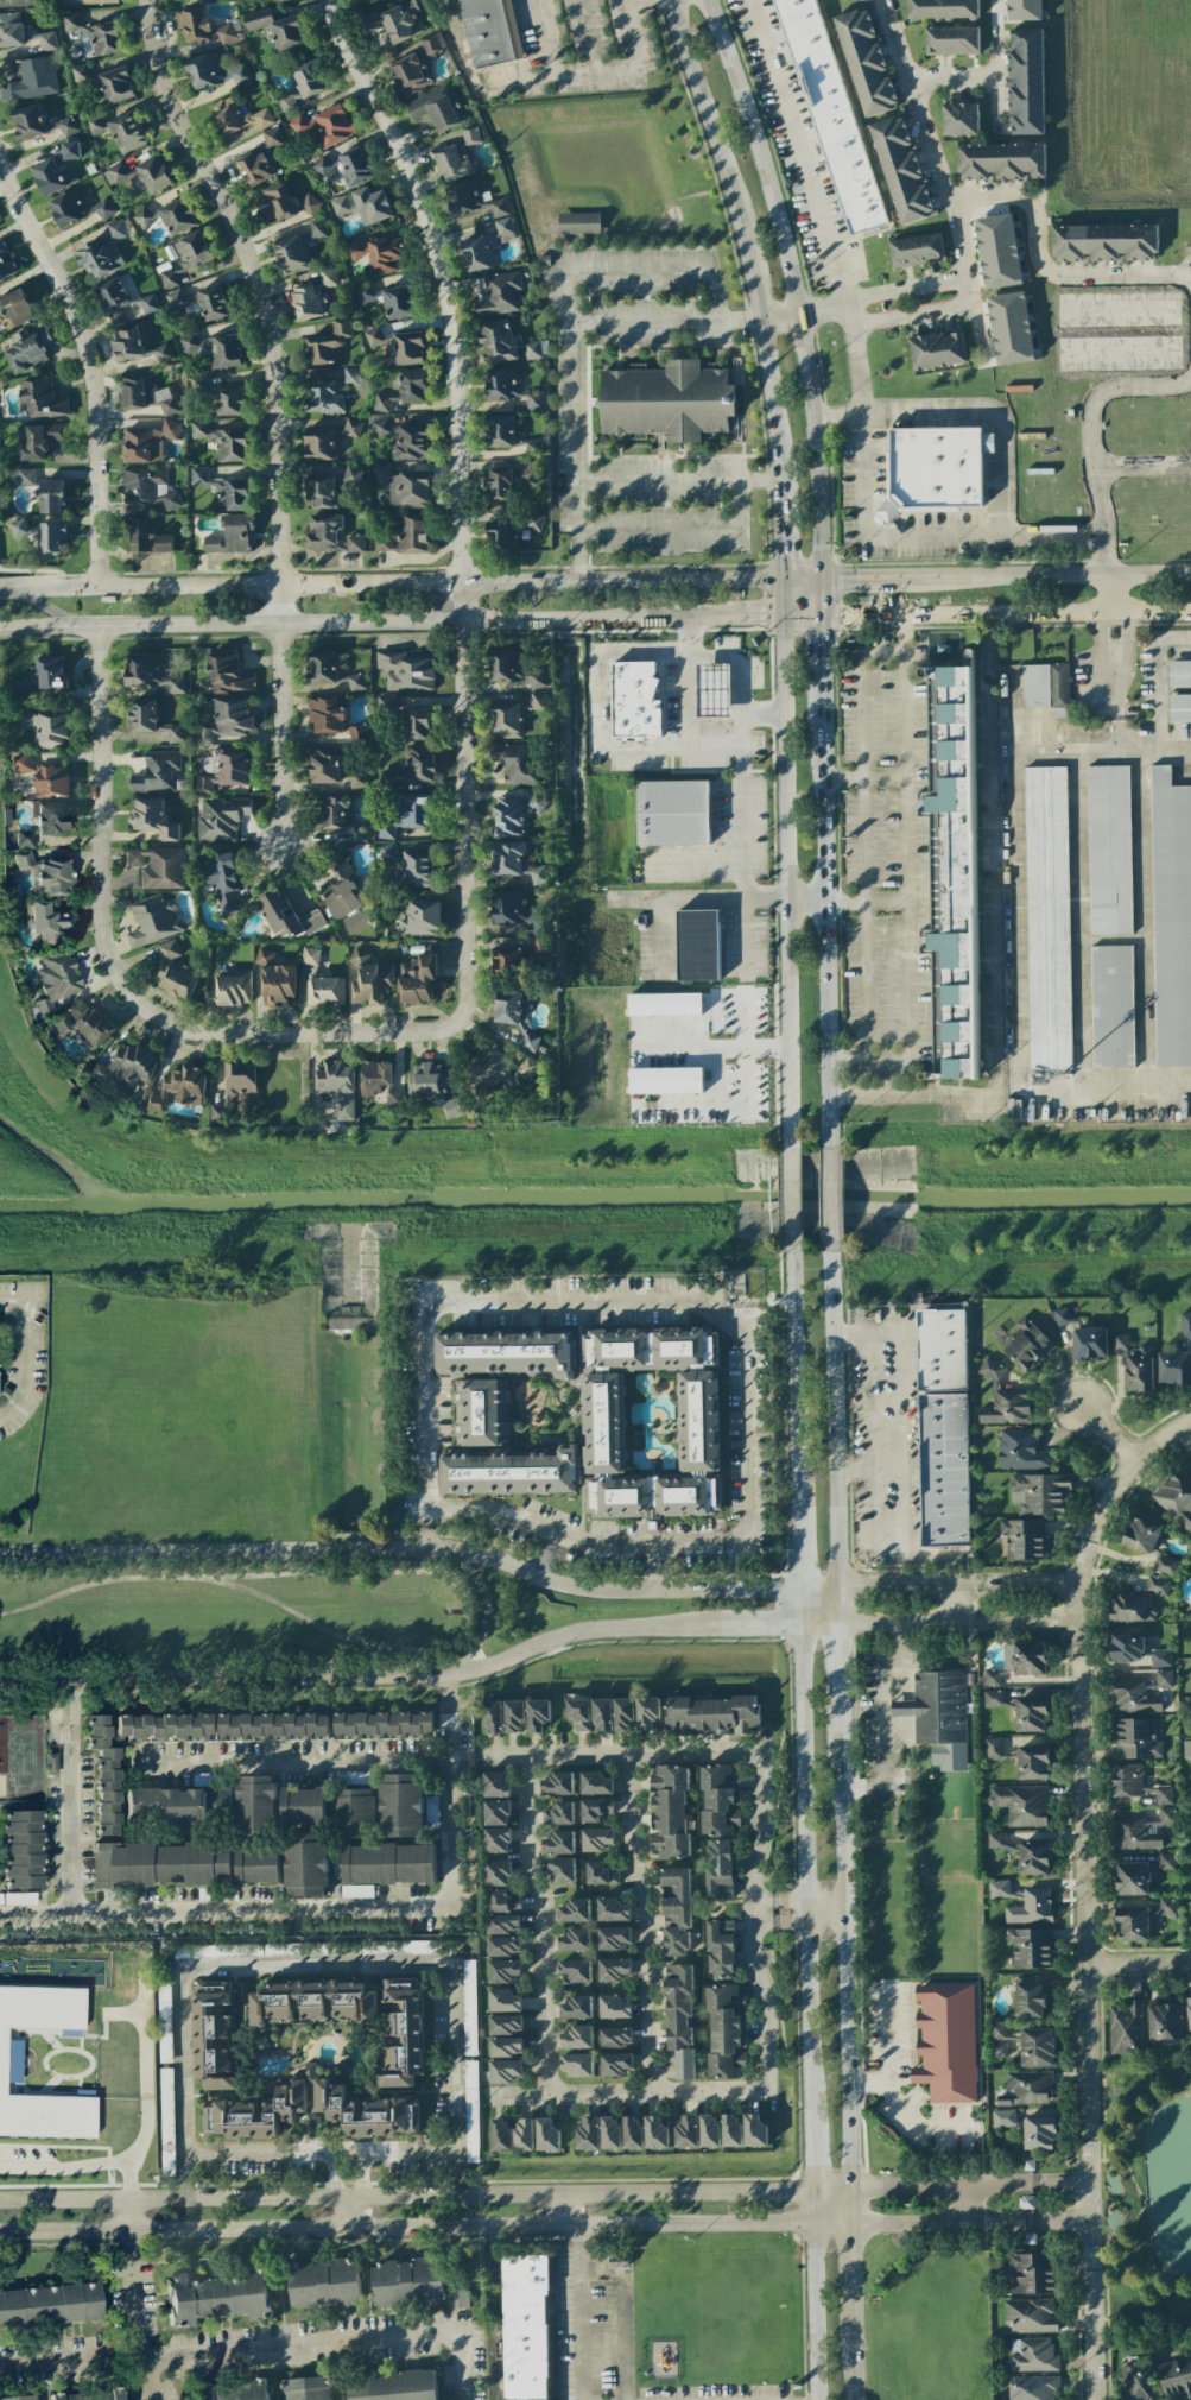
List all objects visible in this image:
building: (194, 0)
building: (280, 0)
building: (85, 1)
road: (627, 1)
building: (21, 2)
building: (942, 8)
building: (1024, 10)
building: (397, 21)
building: (9, 23)
building: (201, 27)
building: (278, 29)
building: (492, 31)
building: (96, 33)
road: (589, 36)
building: (951, 40)
building: (866, 62)
building: (414, 68)
building: (213, 71)
road: (594, 72)
building: (80, 74)
building: (31, 78)
road: (951, 80)
building: (1026, 81)
building: (116, 84)
building: (300, 89)
building: (437, 109)
building: (832, 114)
building: (237, 116)
road: (703, 119)
building: (959, 119)
building: (28, 121)
building: (95, 124)
building: (299, 124)
building: (66, 126)
building: (334, 126)
building: (127, 131)
building: (470, 135)
road: (927, 135)
building: (70, 150)
road: (798, 153)
building: (260, 158)
building: (1001, 162)
building: (450, 163)
building: (322, 166)
building: (355, 166)
building: (901, 170)
building: (114, 172)
building: (151, 175)
building: (52, 176)
building: (471, 200)
building: (277, 203)
building: (309, 204)
building: (363, 206)
building: (77, 209)
building: (142, 216)
building: (178, 216)
building: (578, 223)
building: (317, 228)
building: (115, 229)
building: (1104, 242)
building: (487, 246)
building: (355, 250)
building: (917, 250)
building: (999, 251)
building: (290, 255)
building: (384, 255)
building: (188, 257)
building: (97, 259)
building: (6, 261)
road: (636, 264)
road: (1045, 265)
building: (328, 278)
road: (444, 279)
road: (750, 279)
road: (792, 283)
road: (1190, 284)
road: (904, 285)
building: (500, 295)
building: (391, 299)
building: (120, 301)
building: (202, 302)
building: (308, 302)
building: (15, 308)
road: (969, 309)
road: (803, 314)
road: (906, 316)
building: (1011, 328)
building: (498, 341)
building: (328, 343)
building: (126, 345)
building: (398, 346)
building: (28, 348)
building: (214, 349)
building: (532, 349)
building: (937, 350)
building: (163, 353)
road: (89, 361)
road: (769, 384)
building: (411, 386)
building: (509, 387)
building: (332, 391)
building: (145, 394)
building: (42, 398)
building: (229, 399)
building: (667, 400)
building: (381, 403)
road: (575, 409)
road: (277, 411)
road: (992, 413)
building: (351, 428)
building: (500, 430)
building: (405, 438)
building: (38, 440)
building: (222, 441)
building: (147, 442)
building: (319, 443)
road: (1095, 454)
road: (779, 462)
road: (1144, 465)
building: (933, 468)
building: (26, 476)
building: (404, 486)
building: (500, 486)
building: (148, 488)
building: (224, 490)
building: (324, 492)
building: (51, 497)
building: (19, 528)
road: (780, 528)
road: (680, 529)
road: (578, 531)
building: (323, 532)
building: (413, 533)
building: (501, 533)
building: (140, 535)
building: (232, 535)
road: (869, 537)
building: (51, 539)
building: (382, 542)
building: (164, 543)
building: (354, 543)
road: (31, 569)
road: (1052, 575)
road: (47, 576)
traffic signals: (780, 577)
road: (800, 577)
road: (867, 577)
road: (620, 579)
traffic signals: (821, 579)
road: (279, 583)
road: (47, 587)
road: (780, 596)
road: (821, 596)
road: (986, 613)
traffic signals: (821, 614)
road: (742, 615)
traffic signals: (780, 615)
road: (401, 620)
road: (47, 625)
road: (821, 653)
building: (505, 664)
road: (1113, 664)
building: (407, 670)
building: (329, 671)
building: (150, 672)
building: (1179, 674)
building: (224, 675)
building: (40, 677)
building: (537, 680)
road: (1158, 681)
building: (1046, 688)
building: (714, 690)
road: (598, 700)
building: (635, 700)
building: (538, 702)
building: (1179, 708)
building: (327, 715)
building: (228, 719)
building: (152, 720)
building: (506, 720)
building: (417, 724)
building: (46, 726)
road: (1116, 732)
road: (684, 749)
building: (515, 762)
building: (21, 763)
building: (419, 763)
road: (465, 763)
building: (331, 768)
building: (224, 769)
building: (158, 772)
building: (51, 781)
building: (673, 811)
building: (513, 813)
building: (408, 814)
building: (50, 817)
building: (152, 817)
building: (341, 817)
building: (221, 819)
road: (1018, 830)
building: (25, 839)
road: (745, 842)
road: (993, 847)
building: (1109, 850)
building: (387, 852)
road: (866, 852)
road: (908, 852)
building: (509, 857)
building: (23, 859)
road: (781, 865)
building: (158, 866)
building: (417, 870)
building: (952, 870)
building: (53, 877)
building: (223, 880)
building: (346, 901)
road: (669, 901)
road: (825, 903)
road: (845, 903)
building: (508, 905)
road: (1144, 914)
road: (1079, 915)
building: (287, 917)
building: (422, 917)
building: (1047, 917)
building: (1171, 917)
building: (153, 921)
building: (47, 922)
building: (540, 924)
road: (745, 936)
road: (1111, 937)
building: (698, 945)
building: (507, 959)
building: (172, 972)
building: (275, 978)
building: (368, 978)
building: (417, 979)
building: (55, 980)
building: (233, 987)
building: (665, 1004)
building: (508, 1006)
building: (1111, 1006)
road: (150, 1008)
building: (82, 1023)
building: (530, 1041)
building: (128, 1063)
building: (500, 1068)
building: (427, 1079)
building: (666, 1080)
building: (378, 1081)
building: (237, 1084)
building: (340, 1085)
road: (1106, 1085)
building: (179, 1087)
road: (913, 1094)
building: (454, 1106)
building: (216, 1110)
road: (826, 1179)
road: (787, 1180)
river: (595, 1200)
building: (1185, 1325)
building: (1089, 1343)
building: (1027, 1345)
building: (650, 1350)
road: (21, 1354)
building: (503, 1354)
road: (425, 1364)
building: (1135, 1364)
road: (793, 1366)
building: (1174, 1368)
building: (1002, 1398)
building: (480, 1413)
road: (831, 1415)
road: (746, 1417)
building: (697, 1421)
building: (603, 1423)
building: (944, 1428)
road: (1111, 1432)
road: (1163, 1436)
building: (1021, 1450)
road: (853, 1470)
building: (511, 1474)
building: (1039, 1492)
building: (1176, 1497)
building: (652, 1498)
road: (901, 1521)
road: (429, 1529)
road: (799, 1537)
building: (1024, 1540)
road: (688, 1541)
building: (1148, 1543)
road: (403, 1549)
road: (653, 1549)
road: (547, 1554)
road: (96, 1583)
road: (1018, 1583)
road: (895, 1585)
road: (819, 1587)
building: (1138, 1602)
road: (955, 1604)
road: (837, 1605)
road: (802, 1608)
road: (484, 1615)
road: (471, 1617)
road: (1019, 1623)
road: (895, 1624)
road: (819, 1625)
road: (758, 1627)
building: (1135, 1647)
building: (1024, 1657)
road: (360, 1678)
building: (992, 1678)
building: (1164, 1679)
road: (838, 1682)
road: (450, 1692)
building: (1134, 1697)
building: (993, 1698)
building: (1187, 1710)
road: (68, 1711)
building: (578, 1713)
building: (623, 1713)
building: (648, 1713)
road: (878, 1713)
building: (538, 1714)
building: (602, 1714)
building: (712, 1714)
building: (1031, 1714)
building: (492, 1717)
building: (514, 1717)
building: (938, 1717)
building: (382, 1724)
building: (273, 1725)
building: (165, 1726)
road: (452, 1737)
building: (1136, 1738)
building: (993, 1749)
building: (1186, 1749)
road: (616, 1751)
building: (51, 1763)
building: (1033, 1763)
road: (294, 1767)
building: (104, 1775)
building: (1127, 1780)
building: (496, 1783)
building: (558, 1783)
building: (595, 1783)
building: (1163, 1795)
building: (720, 1800)
building: (176, 1804)
building: (255, 1804)
building: (304, 1805)
building: (401, 1805)
building: (1021, 1805)
building: (596, 1810)
building: (431, 1811)
building: (496, 1812)
building: (669, 1812)
building: (354, 1813)
building: (559, 1813)
building: (1140, 1830)
road: (69, 1831)
building: (498, 1839)
building: (597, 1839)
building: (995, 1839)
building: (559, 1843)
building: (21, 1849)
building: (1033, 1857)
building: (1166, 1861)
building: (161, 1864)
building: (306, 1864)
building: (258, 1865)
building: (384, 1867)
building: (718, 1869)
building: (562, 1870)
road: (806, 1871)
building: (498, 1874)
building: (601, 1874)
building: (1132, 1878)
building: (20, 1899)
building: (503, 1901)
building: (1024, 1902)
building: (1167, 1906)
building: (613, 1909)
building: (575, 1910)
road: (807, 1910)
building: (676, 1912)
road: (762, 1913)
road: (300, 1914)
road: (752, 1919)
road: (646, 1920)
road: (1084, 1921)
road: (540, 1922)
building: (502, 1924)
building: (1132, 1924)
building: (614, 1938)
building: (576, 1940)
building: (503, 1946)
building: (398, 1947)
building: (1031, 1947)
building: (721, 1949)
road: (843, 1957)
road: (424, 1963)
road: (1138, 1963)
building: (615, 1970)
building: (503, 1971)
building: (575, 1971)
building: (1031, 1997)
building: (503, 2001)
building: (312, 2002)
building: (468, 2007)
building: (615, 2007)
building: (576, 2008)
building: (1189, 2011)
building: (245, 2013)
building: (679, 2019)
building: (1164, 2021)
building: (506, 2025)
building: (1126, 2028)
building: (727, 2030)
building: (403, 2033)
road: (886, 2033)
building: (214, 2034)
building: (616, 2036)
building: (577, 2038)
building: (999, 2040)
building: (946, 2041)
building: (506, 2046)
building: (1037, 2047)
building: (9, 2061)
building: (576, 2064)
building: (616, 2064)
building: (505, 2071)
building: (1026, 2088)
road: (629, 2092)
building: (267, 2108)
road: (901, 2108)
building: (372, 2114)
building: (1003, 2118)
building: (730, 2129)
building: (709, 2130)
building: (754, 2130)
building: (609, 2131)
building: (688, 2131)
building: (632, 2133)
building: (655, 2133)
building: (1039, 2133)
building: (524, 2134)
building: (588, 2134)
building: (501, 2135)
building: (546, 2135)
road: (812, 2153)
road: (81, 2167)
road: (1027, 2185)
road: (907, 2187)
road: (831, 2190)
road: (359, 2191)
road: (340, 2192)
road: (406, 2196)
road: (849, 2198)
road: (967, 2204)
road: (813, 2206)
road: (1027, 2221)
road: (908, 2222)
road: (832, 2223)
road: (406, 2228)
road: (133, 2229)
road: (850, 2255)
building: (1032, 2273)
building: (407, 2281)
building: (324, 2284)
road: (581, 2294)
building: (216, 2298)
building: (461, 2298)
building: (50, 2305)
road: (815, 2311)
road: (622, 2314)
building: (1030, 2316)
road: (140, 2329)
building: (522, 2330)
road: (335, 2343)
road: (853, 2344)
building: (1032, 2355)
road: (71, 2362)
building: (1176, 2379)
building: (1138, 2382)
building: (392, 2386)
building: (1032, 2387)
building: (308, 2388)
building: (233, 2390)
building: (89, 2395)
building: (19, 2398)

